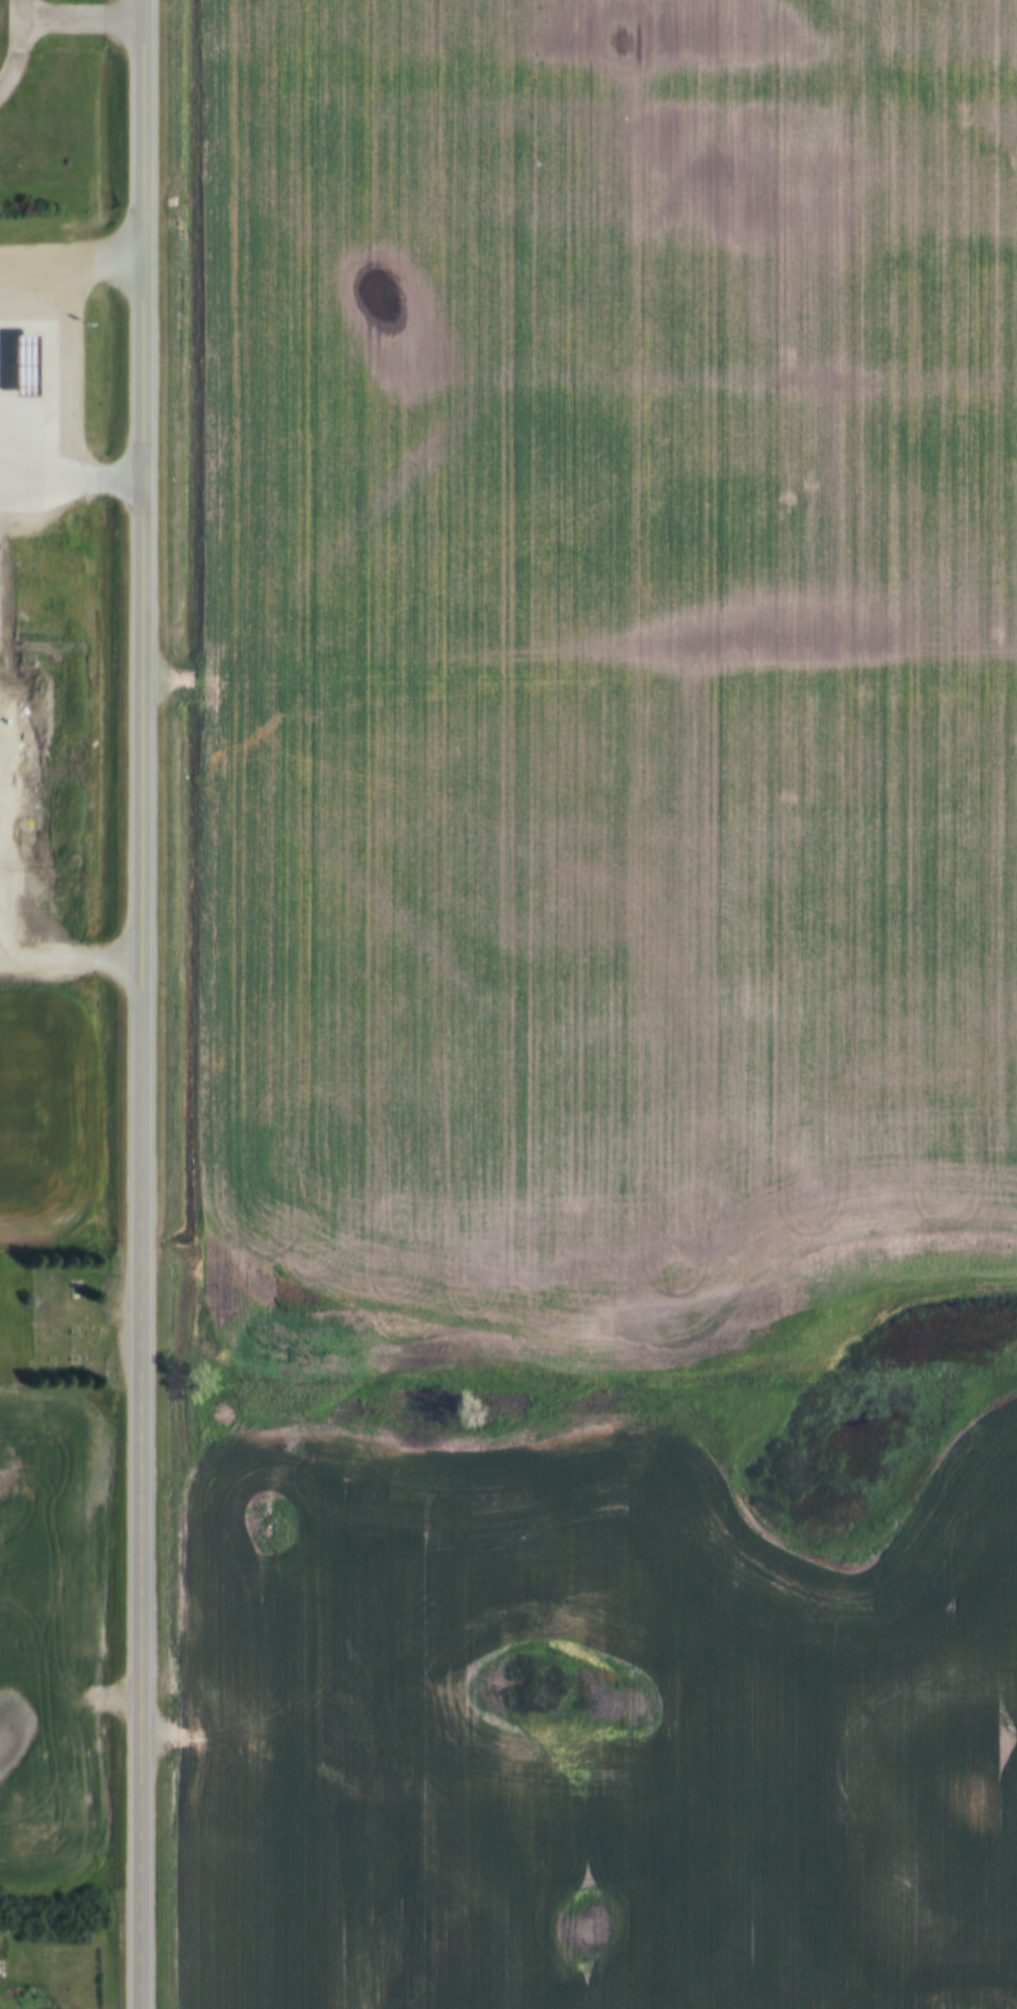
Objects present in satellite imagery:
road: (15, 4)
road: (78, 8)
road: (13, 42)
road: (139, 234)
road: (66, 258)
building: (15, 352)
road: (69, 470)
road: (139, 1239)

